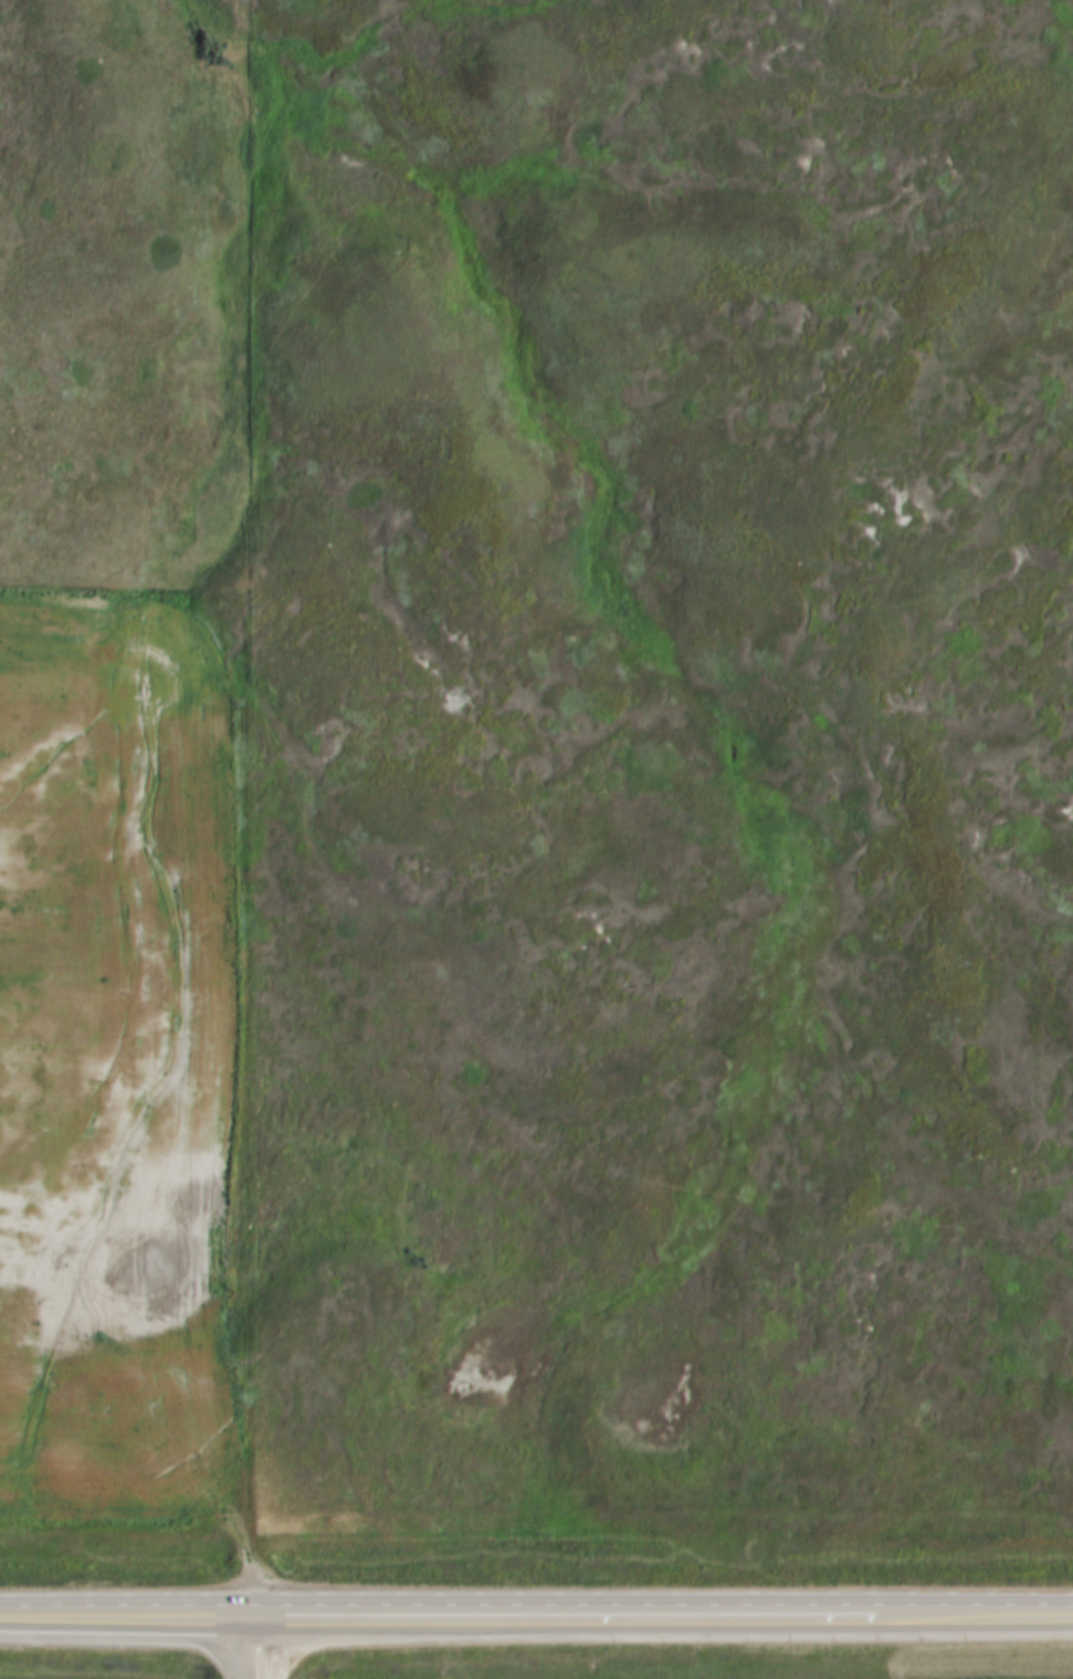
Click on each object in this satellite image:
road: (555, 1617)
road: (967, 1617)
road: (125, 1618)
road: (254, 1647)

